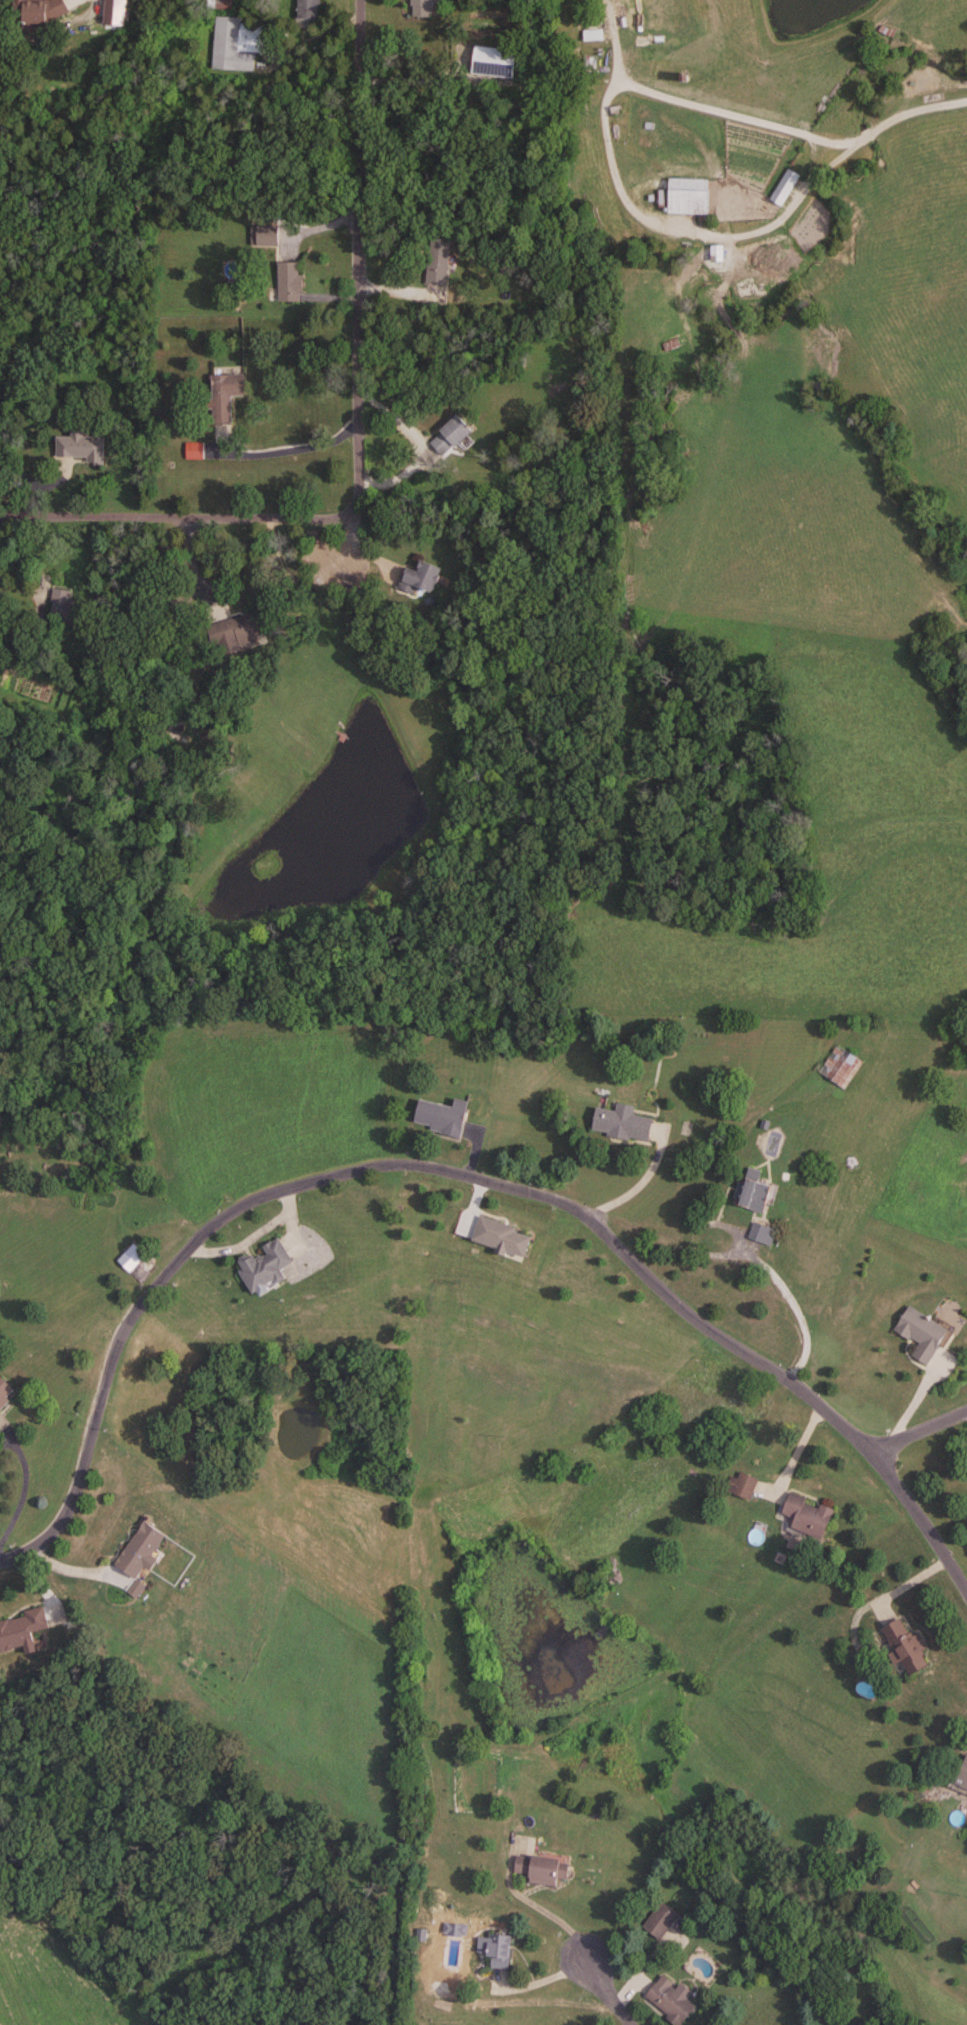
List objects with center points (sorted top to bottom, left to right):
building: (422, 8)
building: (309, 12)
building: (116, 13)
building: (48, 14)
building: (592, 17)
building: (593, 35)
building: (237, 44)
building: (493, 63)
road: (909, 112)
road: (612, 156)
building: (784, 188)
building: (687, 197)
building: (267, 237)
building: (438, 262)
building: (293, 282)
building: (228, 393)
road: (360, 434)
building: (449, 436)
building: (84, 447)
road: (297, 451)
building: (420, 579)
building: (238, 629)
road: (39, 633)
building: (841, 1067)
building: (441, 1117)
building: (622, 1124)
road: (628, 1192)
building: (753, 1196)
building: (762, 1235)
road: (251, 1236)
building: (501, 1239)
building: (133, 1258)
building: (269, 1267)
road: (642, 1271)
road: (787, 1300)
building: (921, 1335)
building: (5, 1395)
road: (104, 1395)
road: (922, 1431)
building: (742, 1486)
building: (807, 1516)
building: (144, 1555)
building: (23, 1632)
building: (906, 1648)
building: (962, 1776)
building: (541, 1871)
road: (551, 1915)
building: (662, 1921)
building: (494, 1951)
road: (605, 1990)
building: (669, 2003)

